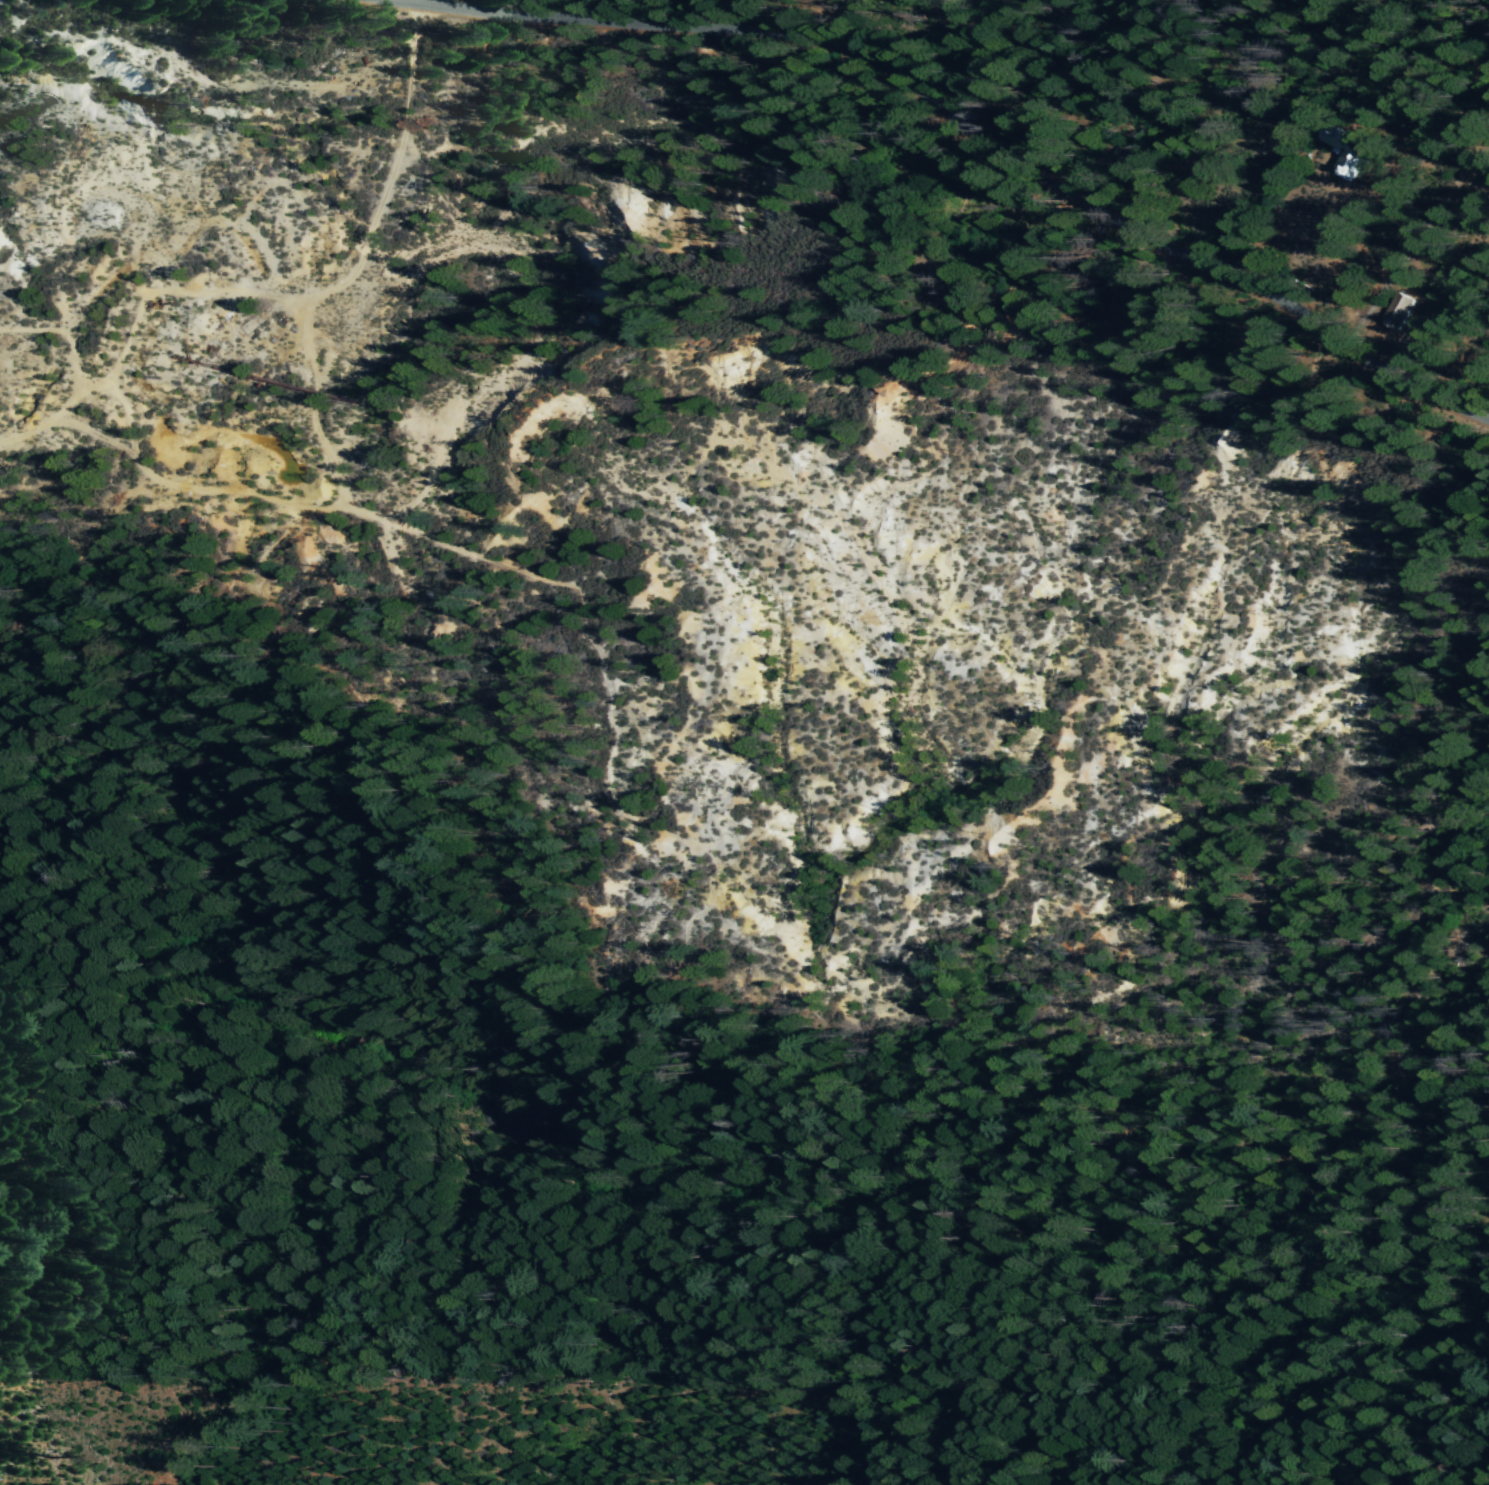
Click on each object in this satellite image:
park: (1095, 68)
road: (954, 129)
park: (1362, 157)
road: (1407, 182)
park: (1446, 295)
park: (1037, 296)
building: (1394, 310)
park: (983, 693)
park: (1216, 913)
park: (361, 982)
park: (313, 1428)
park: (1170, 1434)

